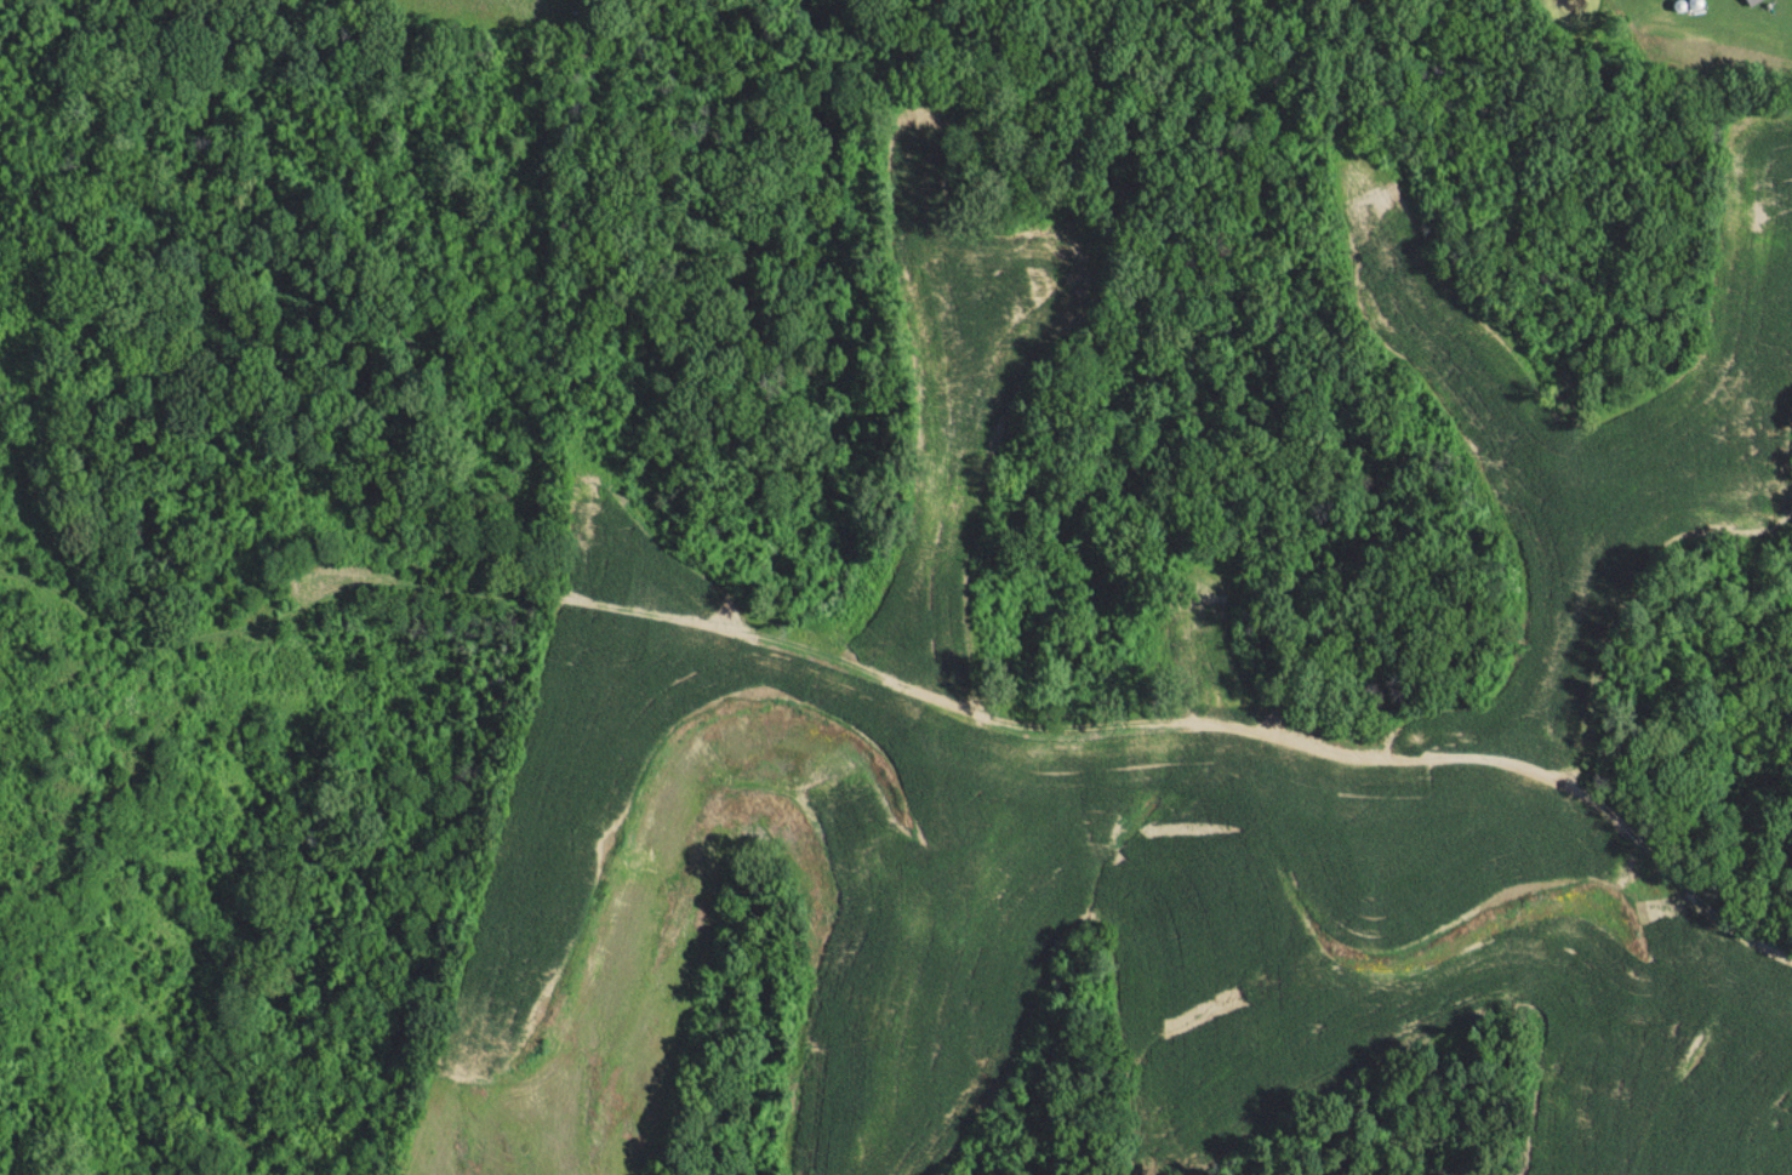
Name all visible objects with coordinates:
building: (1777, 12)

